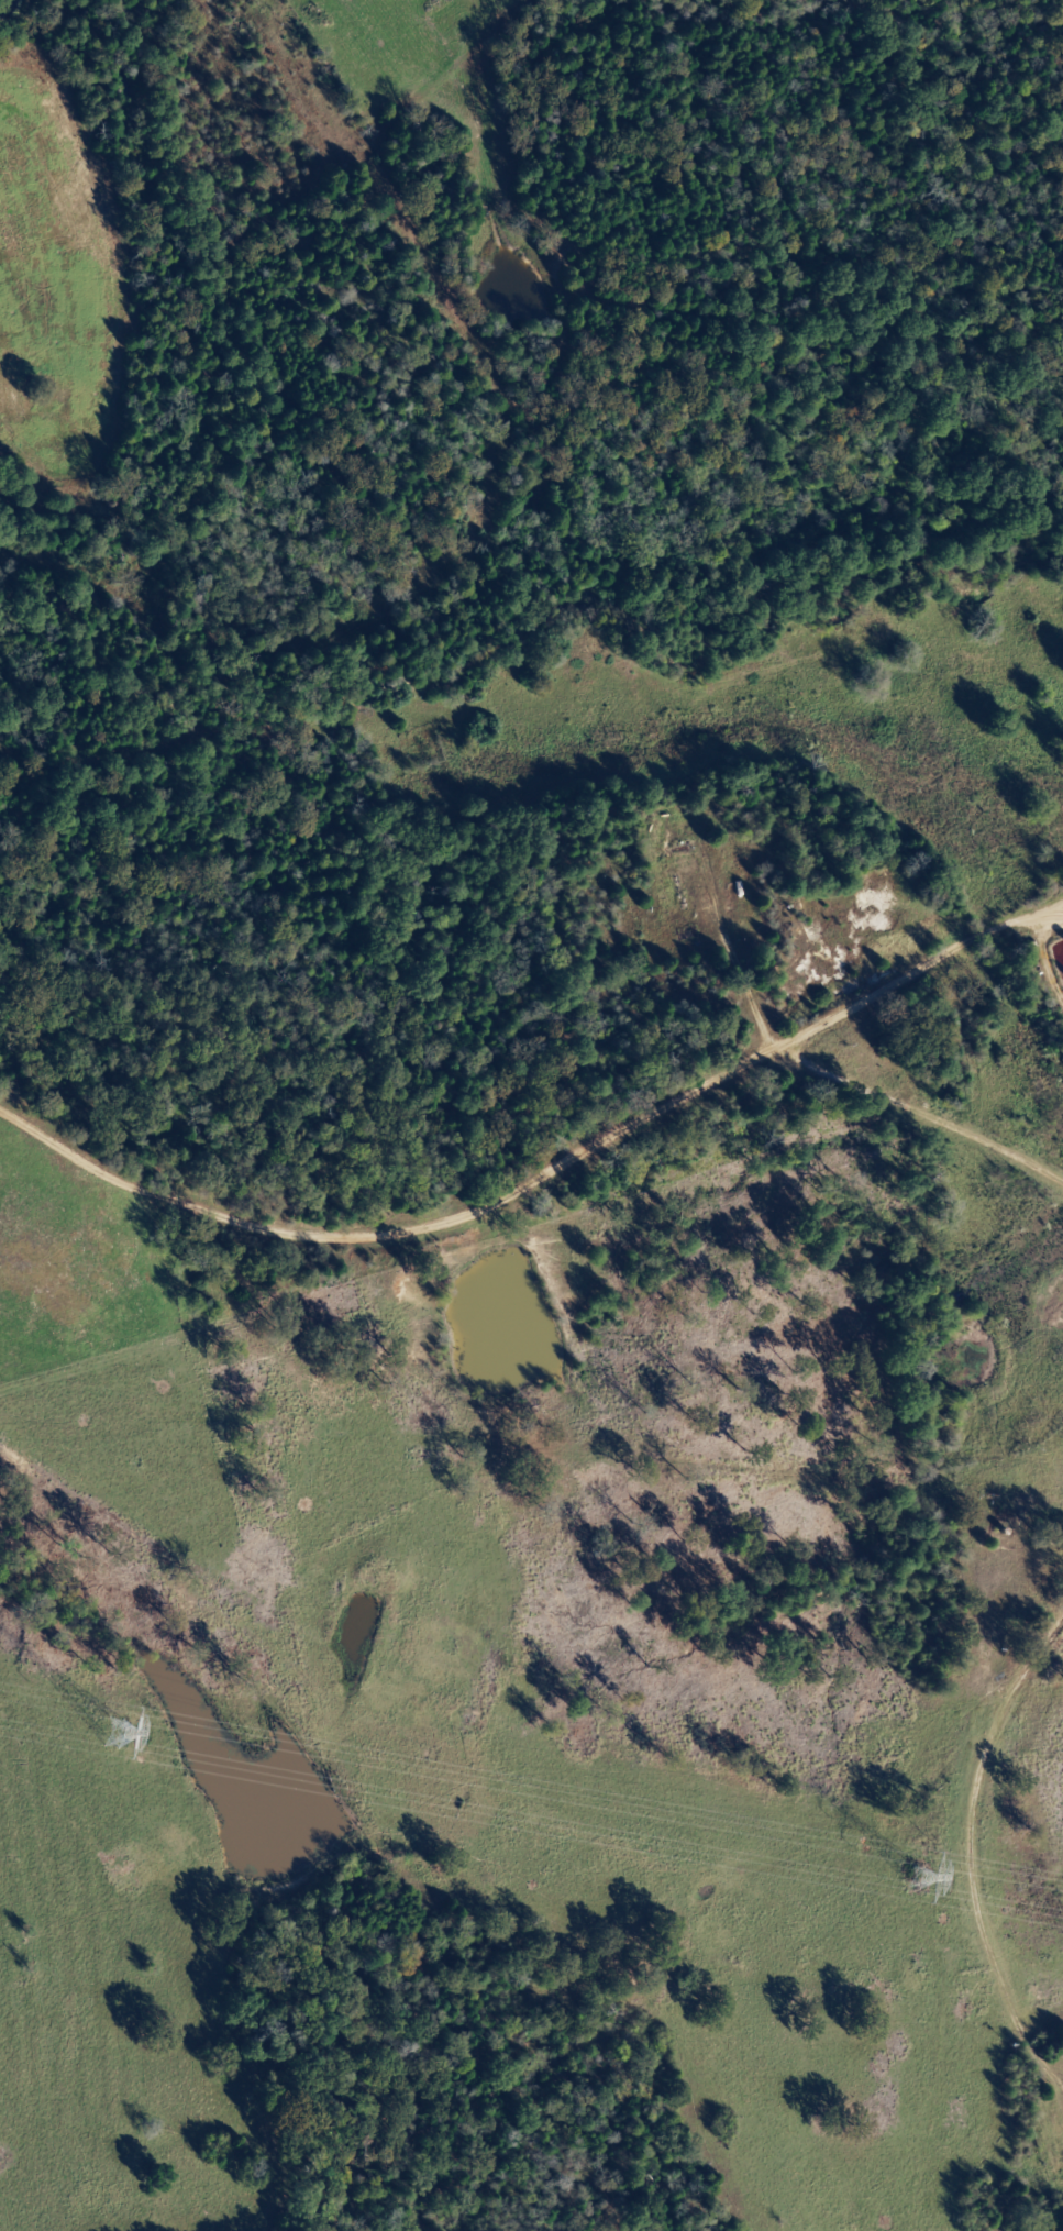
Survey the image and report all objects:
road: (380, 88)
road: (557, 1160)
power tower: (139, 1738)
road: (536, 1786)
power tower: (911, 1879)

